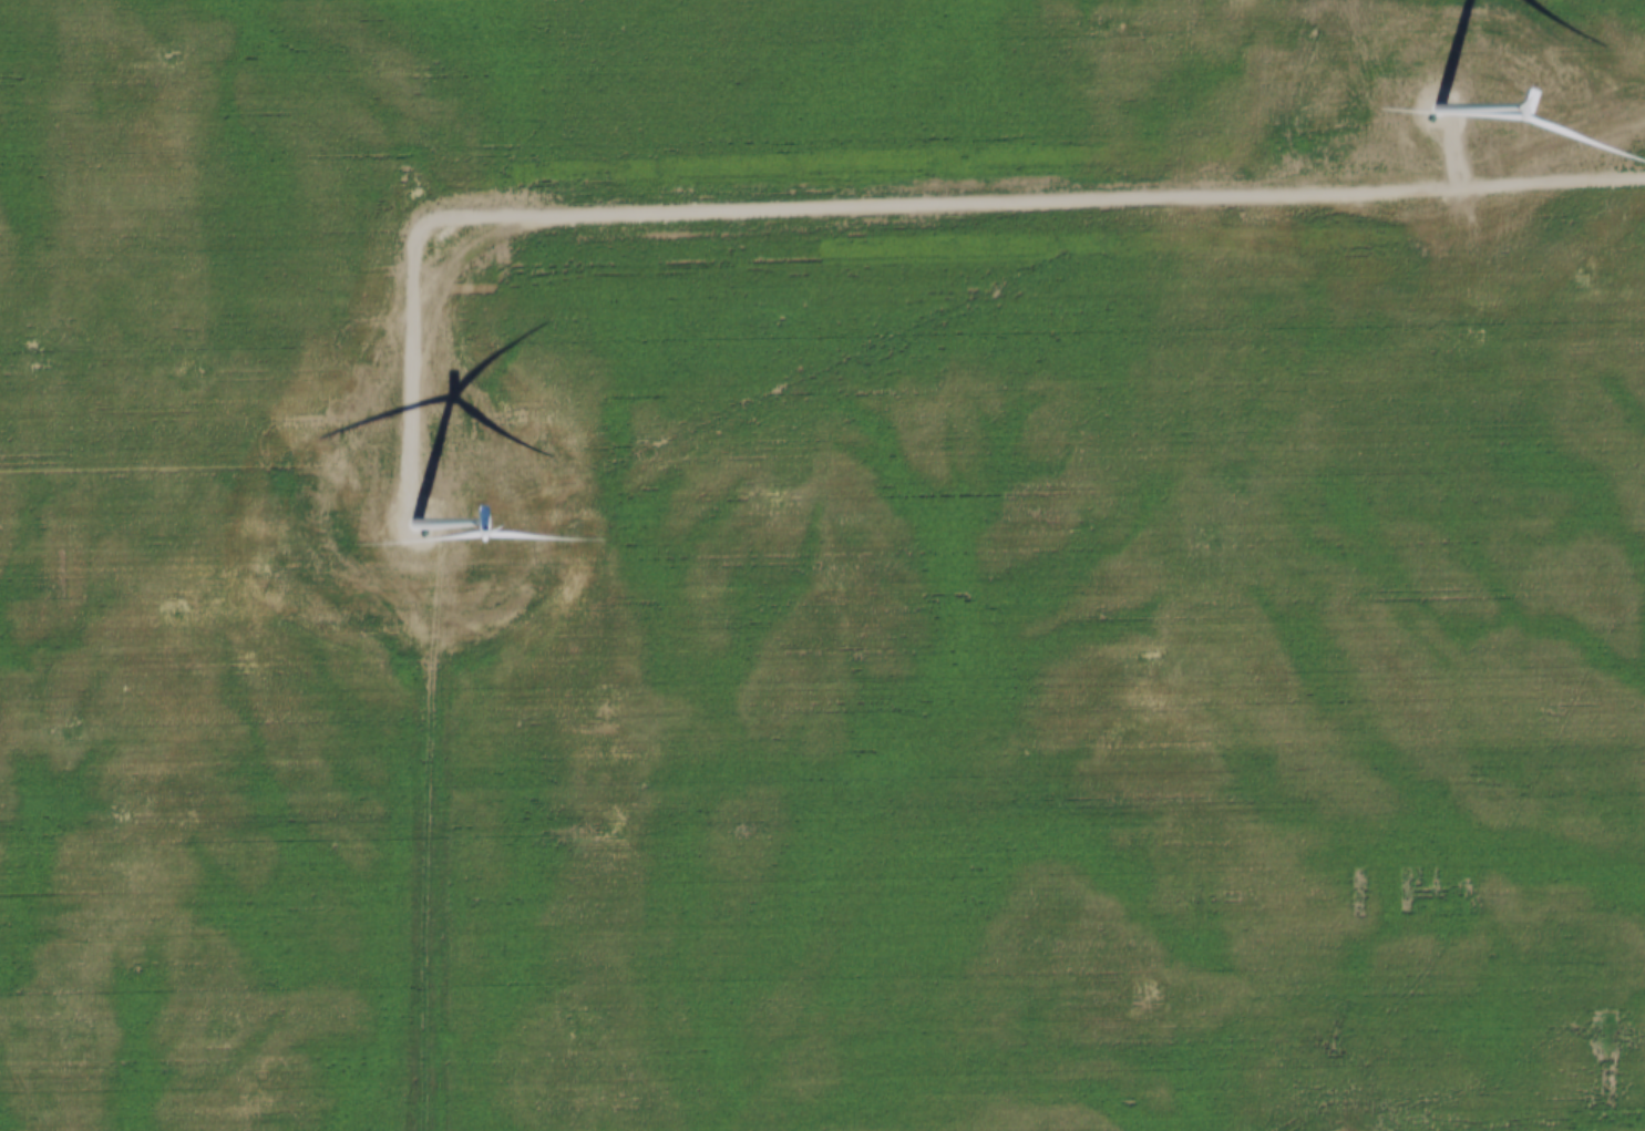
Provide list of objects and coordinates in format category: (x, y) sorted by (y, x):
wind turbine: (1437, 100)
wind turbine: (409, 529)
road: (808, 782)

